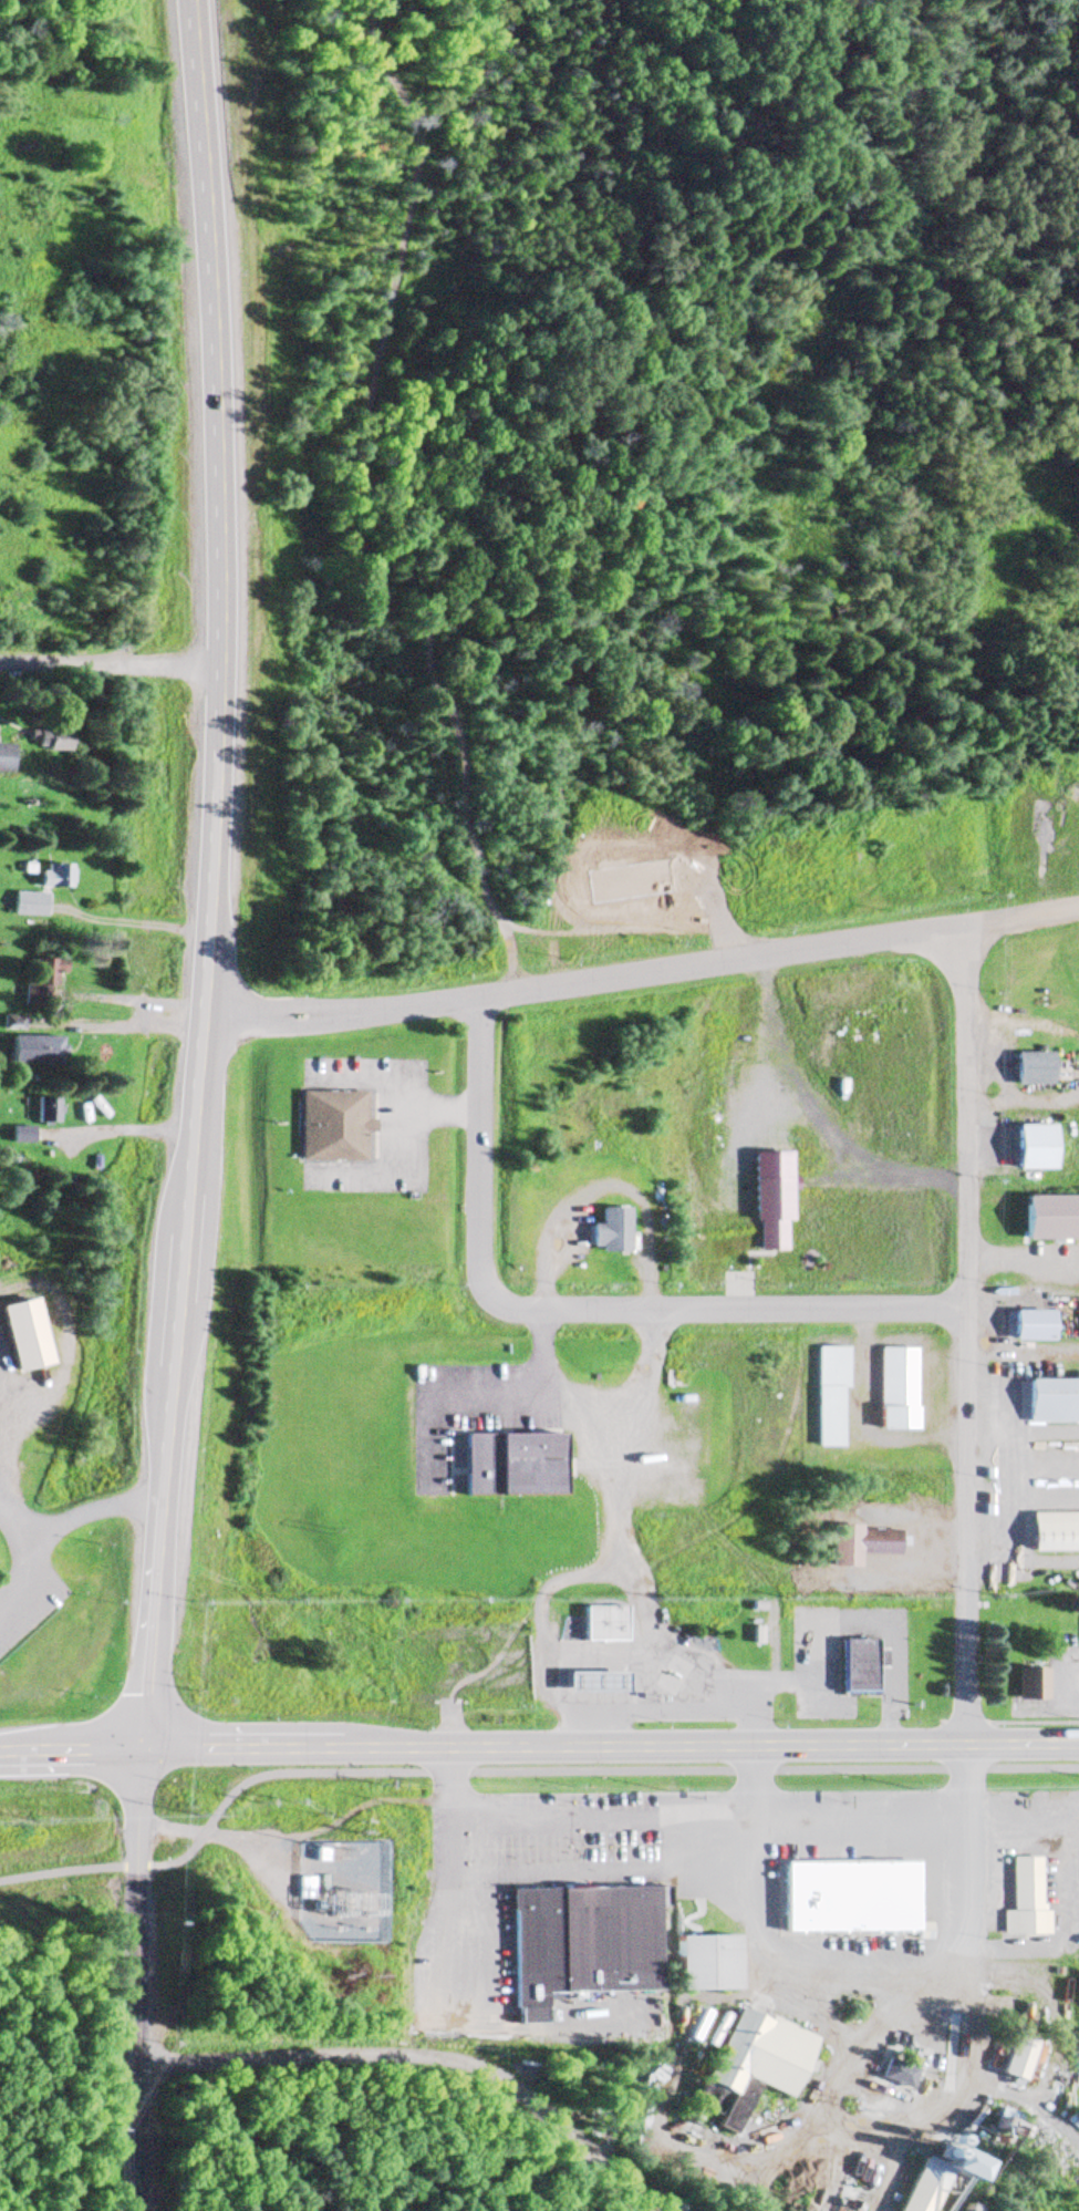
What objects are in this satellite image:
road: (110, 671)
building: (45, 742)
building: (3, 758)
road: (208, 875)
building: (49, 877)
building: (22, 905)
road: (1019, 917)
building: (40, 979)
road: (582, 981)
building: (10, 1026)
building: (42, 1052)
building: (1029, 1068)
building: (45, 1110)
building: (334, 1128)
building: (20, 1136)
building: (1029, 1147)
building: (1049, 1217)
building: (610, 1231)
road: (575, 1306)
building: (1028, 1326)
building: (22, 1336)
road: (964, 1339)
building: (1050, 1388)
building: (896, 1391)
building: (829, 1398)
building: (507, 1465)
road: (42, 1532)
building: (1051, 1533)
building: (860, 1544)
building: (604, 1624)
building: (858, 1667)
building: (592, 1682)
gas station: (592, 1682)
building: (1029, 1684)
road: (610, 1746)
road: (70, 1750)
road: (518, 1773)
power tower: (362, 1881)
building: (304, 1888)
building: (845, 1890)
power substation: (347, 1891)
power tower: (324, 1893)
building: (1023, 1902)
building: (582, 1939)
building: (701, 1964)
road: (139, 1980)
building: (1077, 1985)
building: (1011, 2058)
building: (747, 2067)
building: (894, 2073)
building: (999, 2126)

